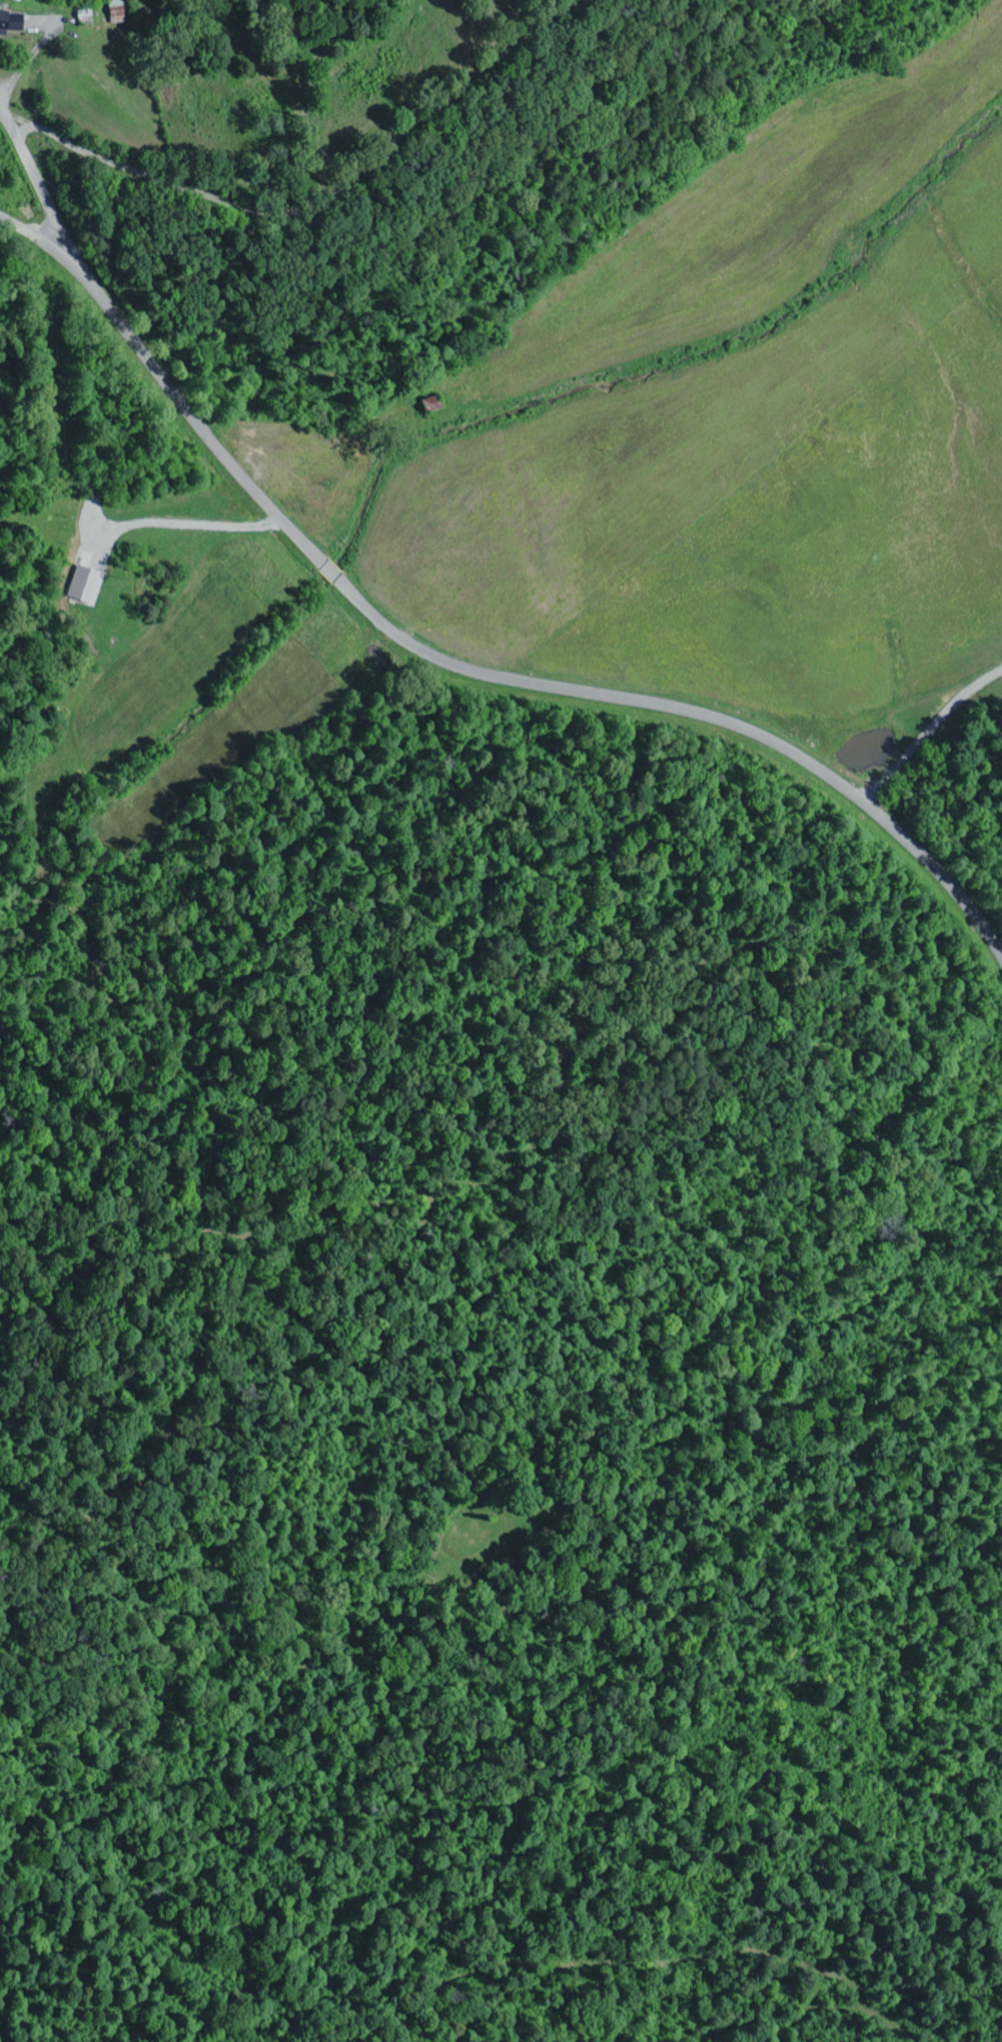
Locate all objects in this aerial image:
road: (318, 202)
road: (49, 205)
road: (52, 252)
building: (86, 585)
road: (518, 682)
road: (928, 735)

